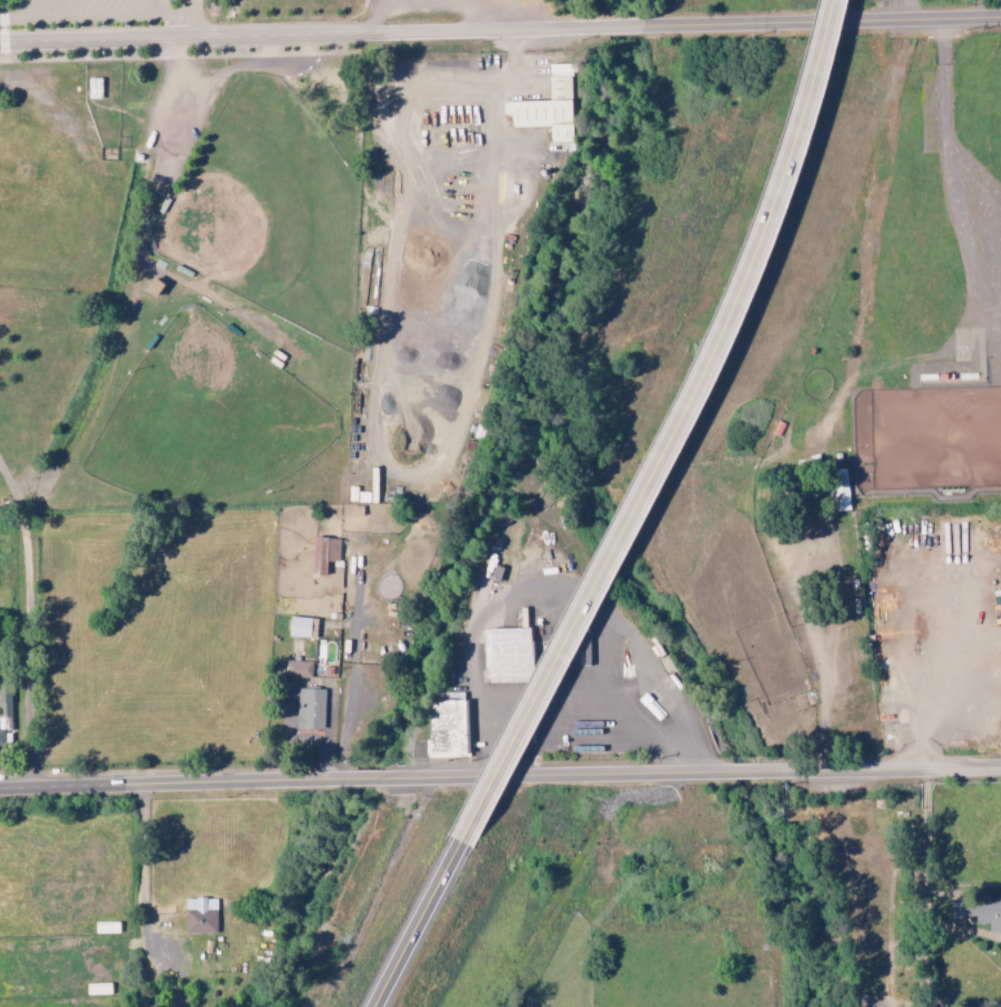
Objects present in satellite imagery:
parking lot: (457, 7)
parking lot: (95, 12)
road: (500, 32)
building: (95, 88)
building: (549, 106)
park: (268, 207)
park: (220, 430)
road: (671, 431)
park: (1, 497)
building: (324, 554)
building: (303, 627)
building: (506, 655)
building: (299, 669)
building: (5, 701)
building: (311, 709)
building: (447, 729)
road: (500, 778)
building: (201, 915)
building: (990, 915)
road: (415, 924)
building: (107, 928)

